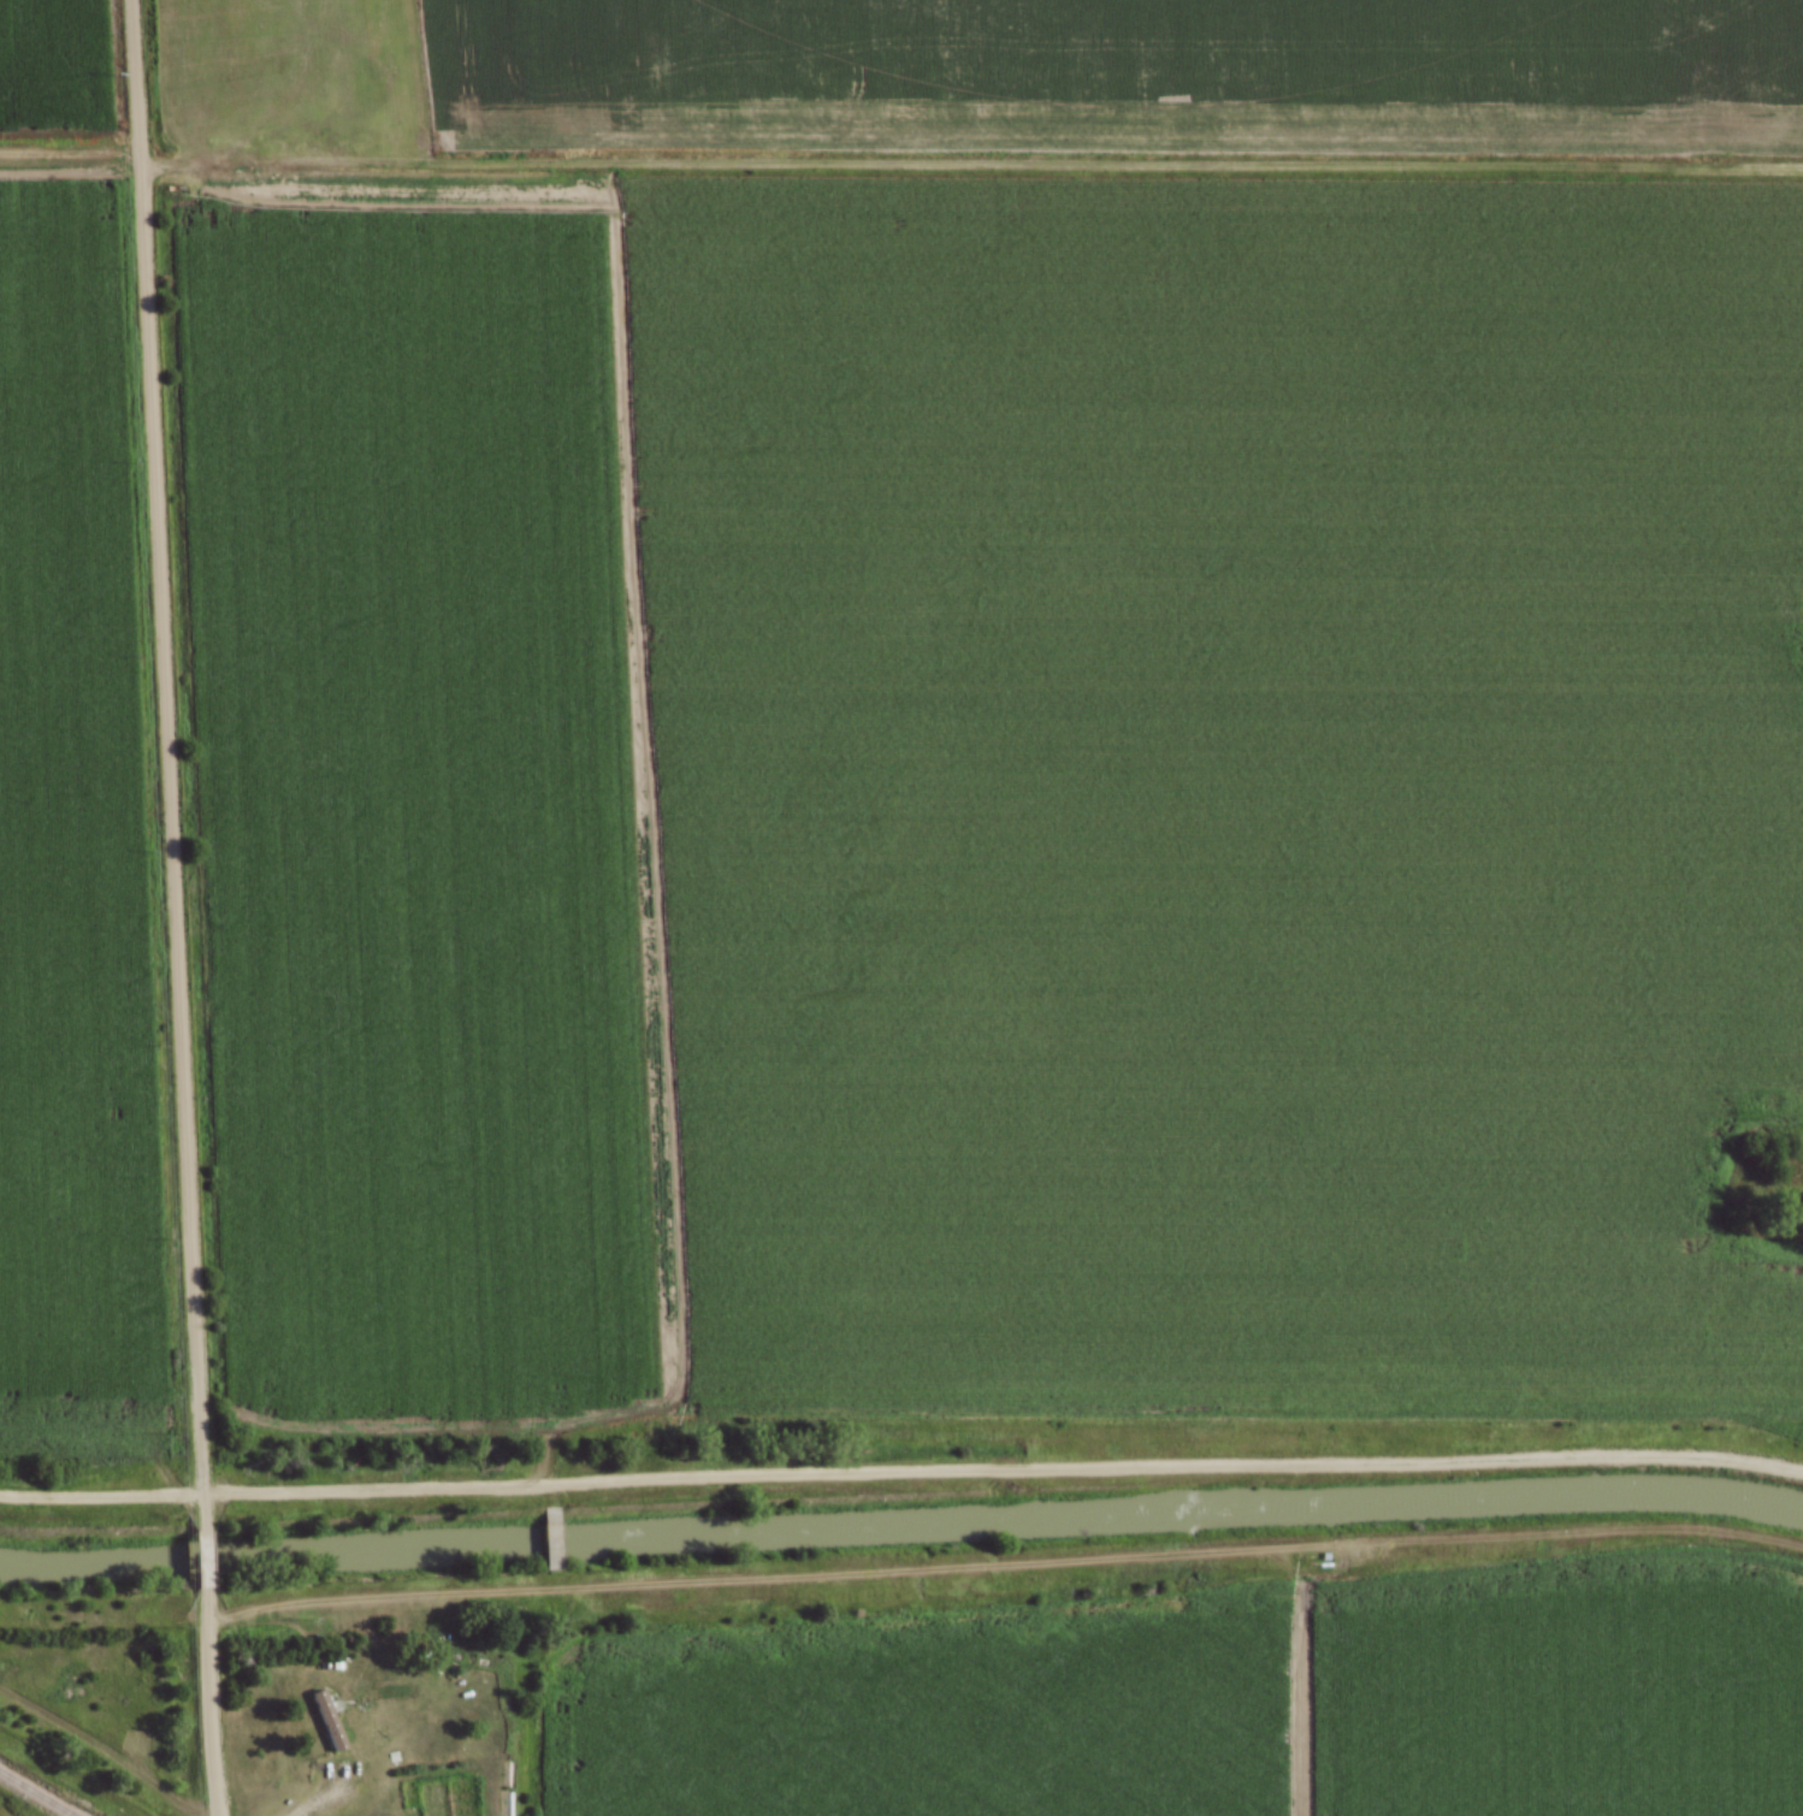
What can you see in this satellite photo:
road: (167, 767)
road: (901, 1475)
road: (554, 1538)
road: (203, 1567)
road: (780, 1575)
road: (211, 1708)
building: (318, 1716)
building: (326, 1722)
railway: (40, 1788)
road: (327, 1796)

